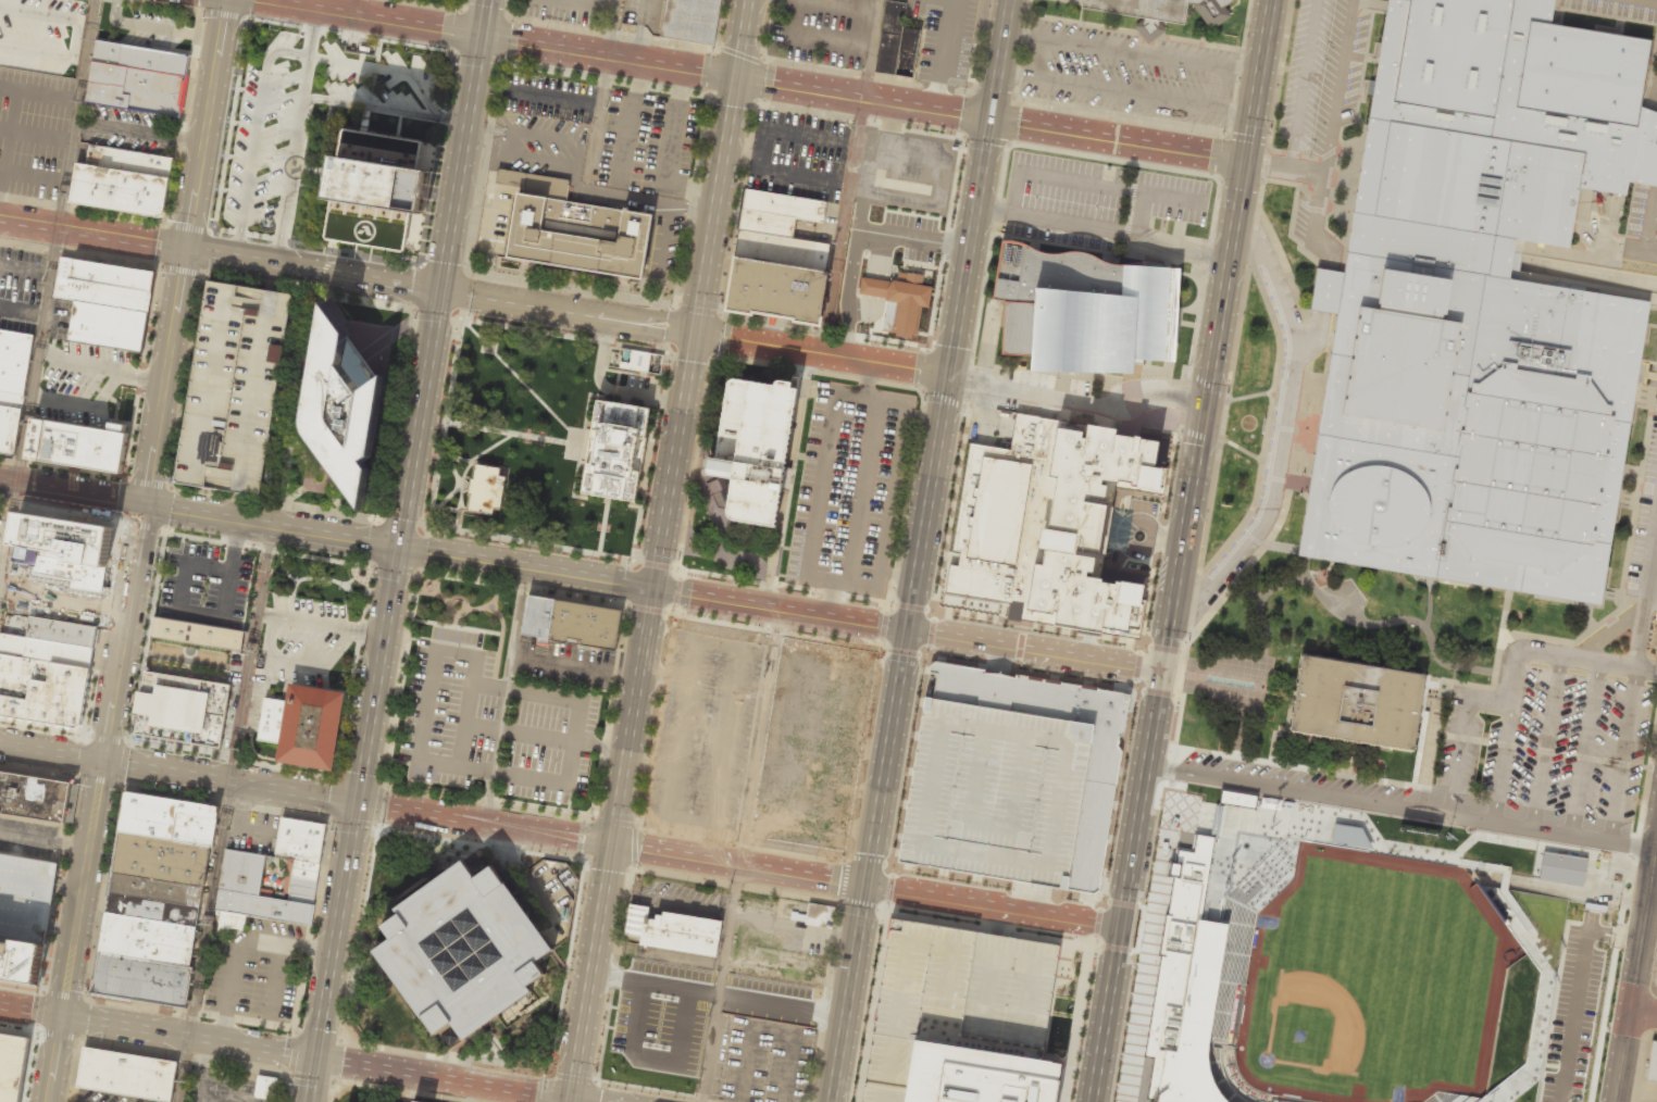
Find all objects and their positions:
road: (1653, 0)
parking lot: (1617, 8)
parking lot: (569, 10)
building: (1531, 10)
building: (1162, 12)
building: (690, 20)
traffic signals: (484, 37)
parking lot: (944, 38)
building: (895, 41)
parking lot: (1656, 53)
road: (624, 60)
road: (997, 60)
parking lot: (1127, 73)
parking lot: (1322, 75)
building: (137, 78)
traffic signals: (742, 79)
road: (1255, 79)
road: (1301, 84)
parking lot: (307, 117)
traffic signals: (988, 120)
parking lot: (33, 132)
road: (1329, 138)
road: (1116, 140)
parking lot: (606, 150)
road: (1266, 153)
parking lot: (798, 154)
traffic signals: (1243, 161)
road: (1282, 167)
building: (1652, 167)
road: (1656, 178)
building: (122, 181)
building: (372, 188)
parking lot: (1101, 189)
building: (783, 203)
road: (1649, 218)
building: (767, 222)
parking lot: (1656, 228)
building: (578, 234)
road: (91, 237)
road: (1251, 238)
road: (1607, 246)
road: (1282, 262)
road: (1589, 272)
road: (443, 273)
building: (777, 276)
road: (1582, 285)
parking lot: (20, 286)
road: (439, 288)
traffic signals: (440, 289)
building: (1324, 290)
road: (1324, 290)
road: (702, 295)
building: (104, 300)
building: (899, 301)
building: (1479, 308)
building: (1082, 309)
parking lot: (60, 316)
traffic signals: (696, 331)
road: (1316, 335)
road: (1307, 341)
road: (482, 346)
road: (822, 352)
building: (13, 359)
building: (635, 361)
road: (1647, 361)
road: (948, 375)
road: (865, 378)
traffic signals: (948, 380)
parking lot: (83, 381)
building: (234, 387)
parking garage: (234, 387)
road: (609, 389)
road: (614, 390)
road: (1248, 396)
road: (536, 398)
road: (871, 398)
building: (344, 403)
road: (1201, 417)
road: (1222, 418)
building: (9, 419)
road: (1269, 425)
road: (1266, 426)
road: (1282, 427)
road: (1283, 429)
road: (1295, 430)
road: (511, 433)
park: (522, 443)
building: (77, 446)
building: (752, 446)
road: (490, 447)
road: (1241, 449)
building: (616, 451)
road: (452, 458)
road: (481, 462)
road: (576, 465)
road: (453, 469)
road: (821, 486)
parking lot: (849, 487)
building: (486, 488)
road: (863, 492)
road: (459, 493)
road: (71, 496)
road: (893, 497)
road: (446, 498)
traffic signals: (141, 508)
road: (448, 508)
building: (1049, 521)
road: (602, 526)
road: (269, 527)
parking lot: (1645, 530)
road: (235, 536)
building: (62, 537)
road: (194, 537)
road: (234, 542)
road: (251, 546)
traffic signals: (398, 548)
road: (266, 549)
road: (135, 550)
road: (628, 554)
road: (320, 558)
road: (1305, 565)
road: (391, 568)
road: (526, 569)
road: (287, 574)
road: (354, 576)
road: (1306, 577)
road: (332, 579)
road: (360, 579)
road: (435, 579)
park: (320, 580)
parking lot: (209, 583)
road: (842, 584)
road: (432, 587)
parking lot: (53, 588)
road: (422, 588)
road: (1246, 589)
traffic signals: (657, 591)
road: (364, 593)
road: (1644, 594)
road: (441, 596)
road: (1618, 596)
road: (832, 601)
road: (1429, 602)
road: (1192, 603)
road: (463, 604)
road: (477, 606)
road: (187, 609)
park: (469, 611)
road: (784, 611)
road: (1504, 611)
road: (501, 618)
road: (456, 619)
building: (571, 621)
road: (1590, 622)
road: (359, 629)
traffic signals: (911, 631)
building: (196, 633)
road: (1608, 633)
road: (367, 634)
parking lot: (304, 637)
road: (1186, 637)
park: (1338, 638)
road: (719, 642)
road: (269, 646)
road: (1035, 653)
road: (1559, 653)
parking lot: (564, 664)
building: (46, 671)
road: (666, 674)
road: (1454, 674)
traffic signals: (1160, 675)
fountain: (1228, 683)
parking lot: (188, 693)
building: (1357, 701)
road: (345, 705)
building: (180, 709)
road: (635, 718)
parking lot: (493, 723)
building: (303, 724)
road: (681, 728)
road: (516, 734)
parking lot: (703, 734)
road: (726, 736)
road: (1461, 737)
road: (1312, 739)
road: (1546, 741)
parking lot: (1546, 743)
park: (810, 744)
road: (1271, 747)
road: (600, 748)
road: (1583, 748)
road: (51, 751)
road: (1430, 751)
road: (1622, 754)
road: (1348, 756)
road: (1500, 763)
road: (453, 765)
road: (650, 766)
building: (1013, 776)
parking garage: (1013, 776)
road: (1381, 780)
parking lot: (1288, 784)
building: (34, 796)
road: (487, 798)
building: (1236, 799)
road: (1141, 801)
road: (358, 802)
road: (358, 803)
traffic signals: (358, 803)
road: (1400, 806)
building: (169, 817)
road: (706, 825)
parking lot: (253, 831)
building: (1348, 835)
parking lot: (30, 836)
traffic signals: (613, 846)
building: (161, 857)
road: (872, 866)
building: (1561, 868)
building: (240, 875)
building: (557, 884)
road: (868, 885)
traffic signals: (870, 886)
building: (25, 896)
parking garage: (25, 896)
parking lot: (676, 896)
building: (153, 898)
building: (815, 914)
road: (1642, 921)
traffic signals: (1122, 927)
building: (672, 931)
building: (148, 938)
building: (460, 946)
building: (21, 959)
stadium: (1366, 959)
parking lot: (256, 969)
road: (591, 972)
building: (142, 978)
building: (1205, 978)
park: (1371, 980)
building: (773, 987)
building: (619, 1005)
road: (32, 1011)
road: (1107, 1014)
road: (1642, 1014)
building: (1235, 1015)
traffic signals: (63, 1016)
building: (963, 1020)
road: (189, 1036)
building: (668, 1045)
traffic signals: (315, 1056)
road: (1620, 1056)
building: (1653, 1062)
building: (11, 1066)
building: (126, 1075)
road: (443, 1077)
road: (311, 1079)
building: (265, 1087)
building: (1448, 1098)
traffic signals: (570, 1099)
building: (1286, 1099)
road: (578, 1100)
building: (415, 1101)

